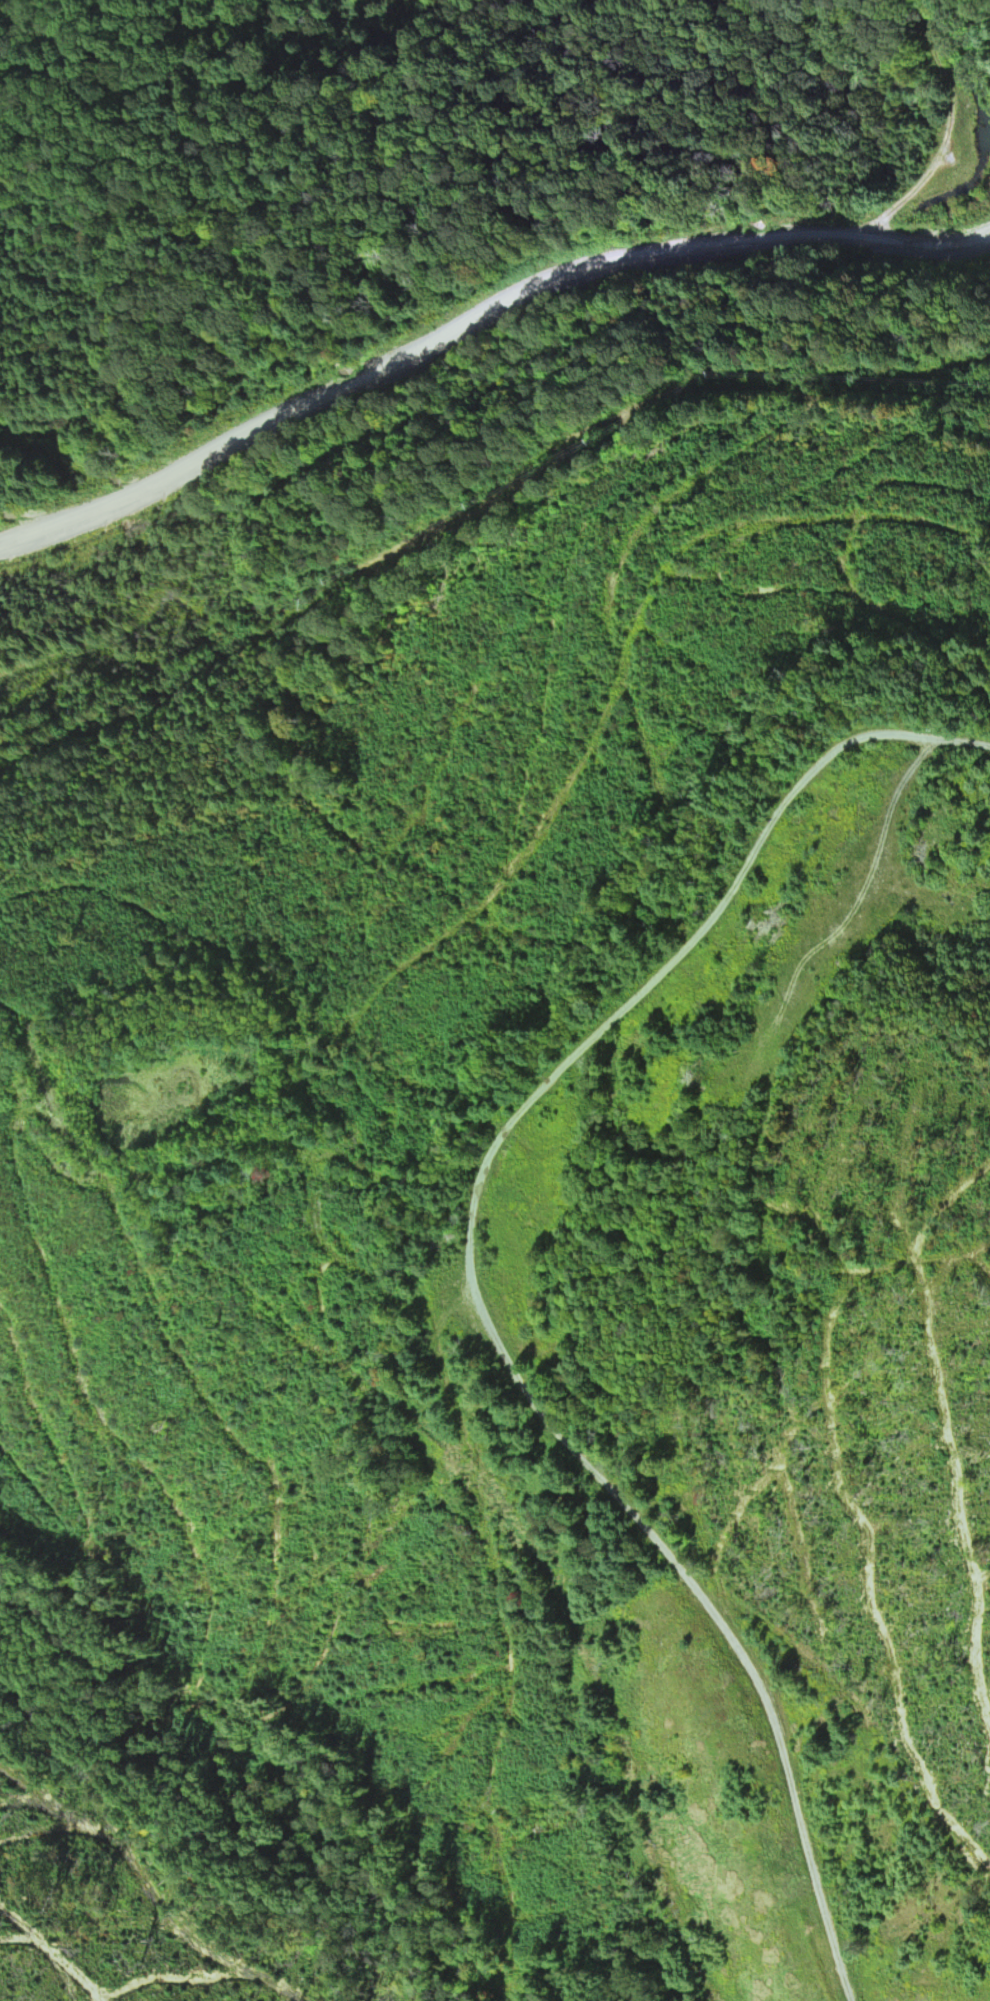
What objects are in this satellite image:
road: (484, 379)
road: (500, 867)
road: (626, 920)
road: (629, 1144)

